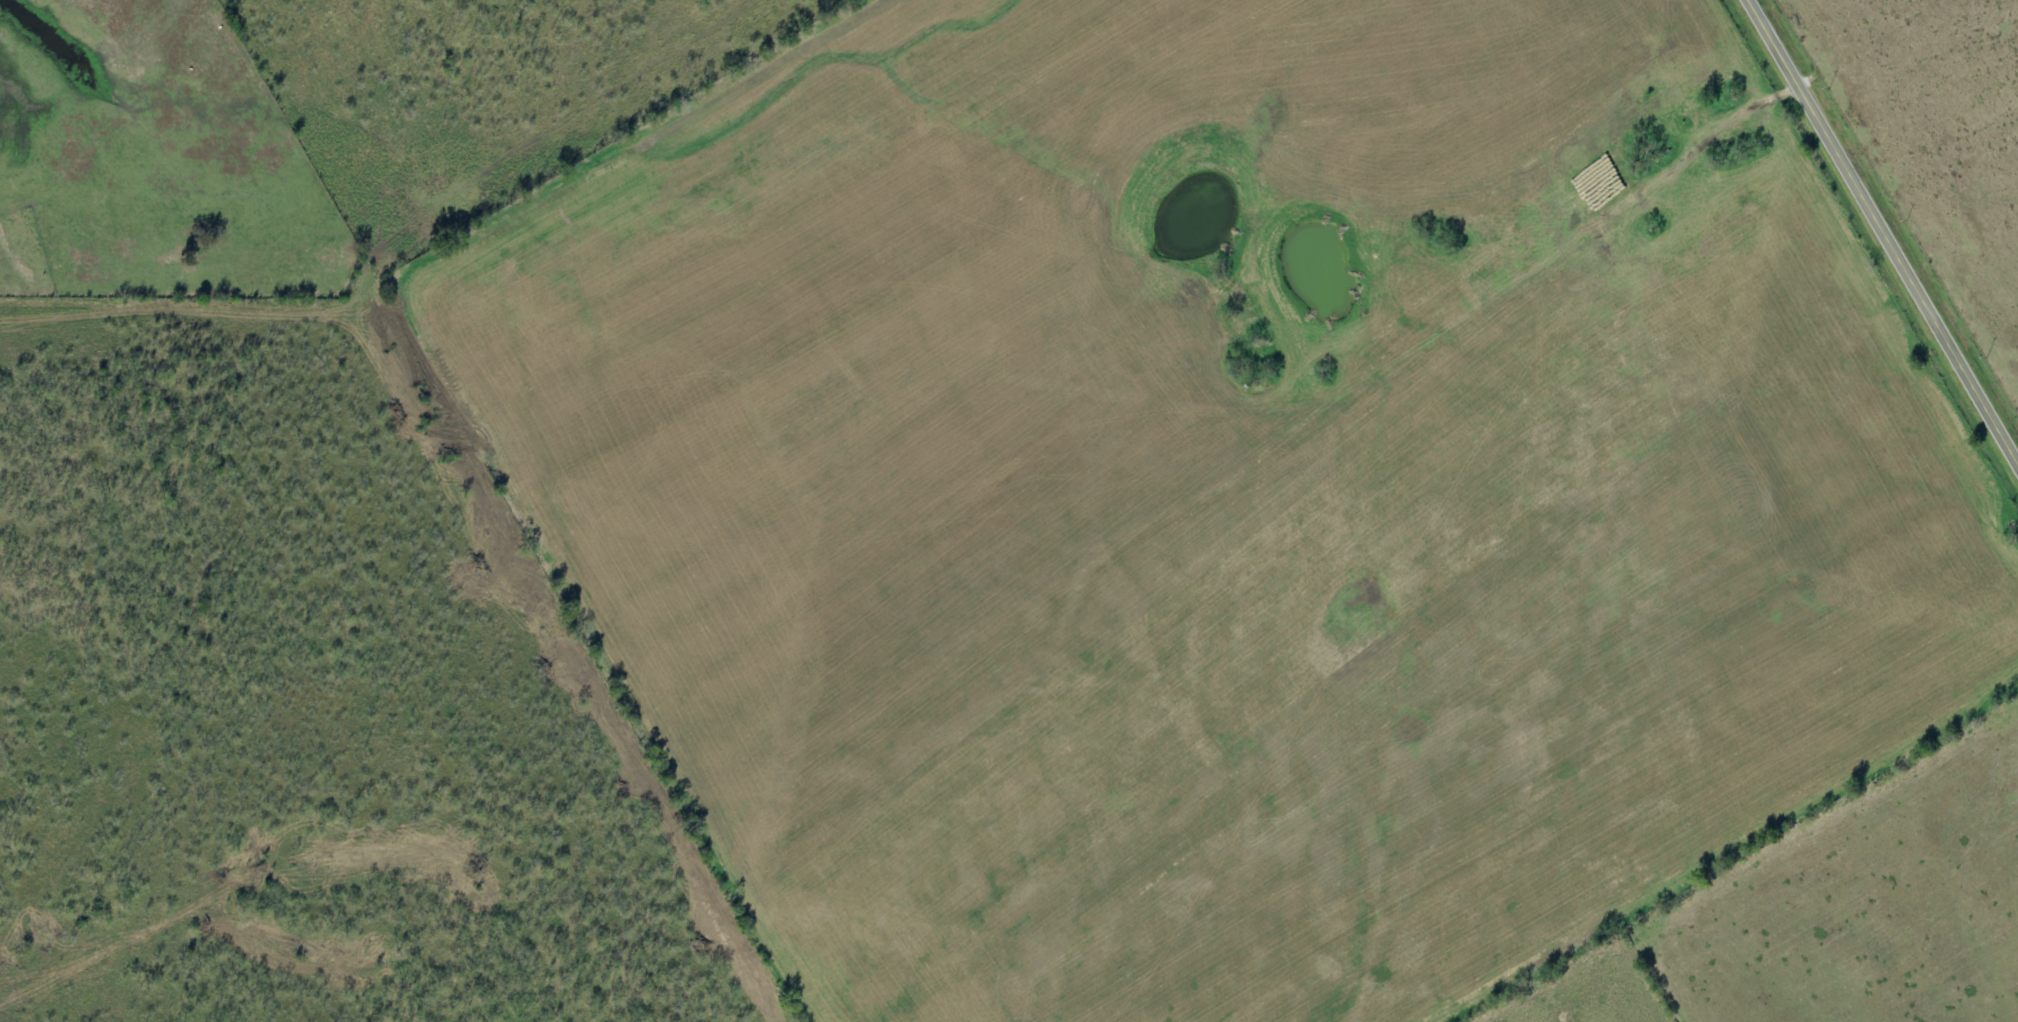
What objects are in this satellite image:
road: (1884, 225)

